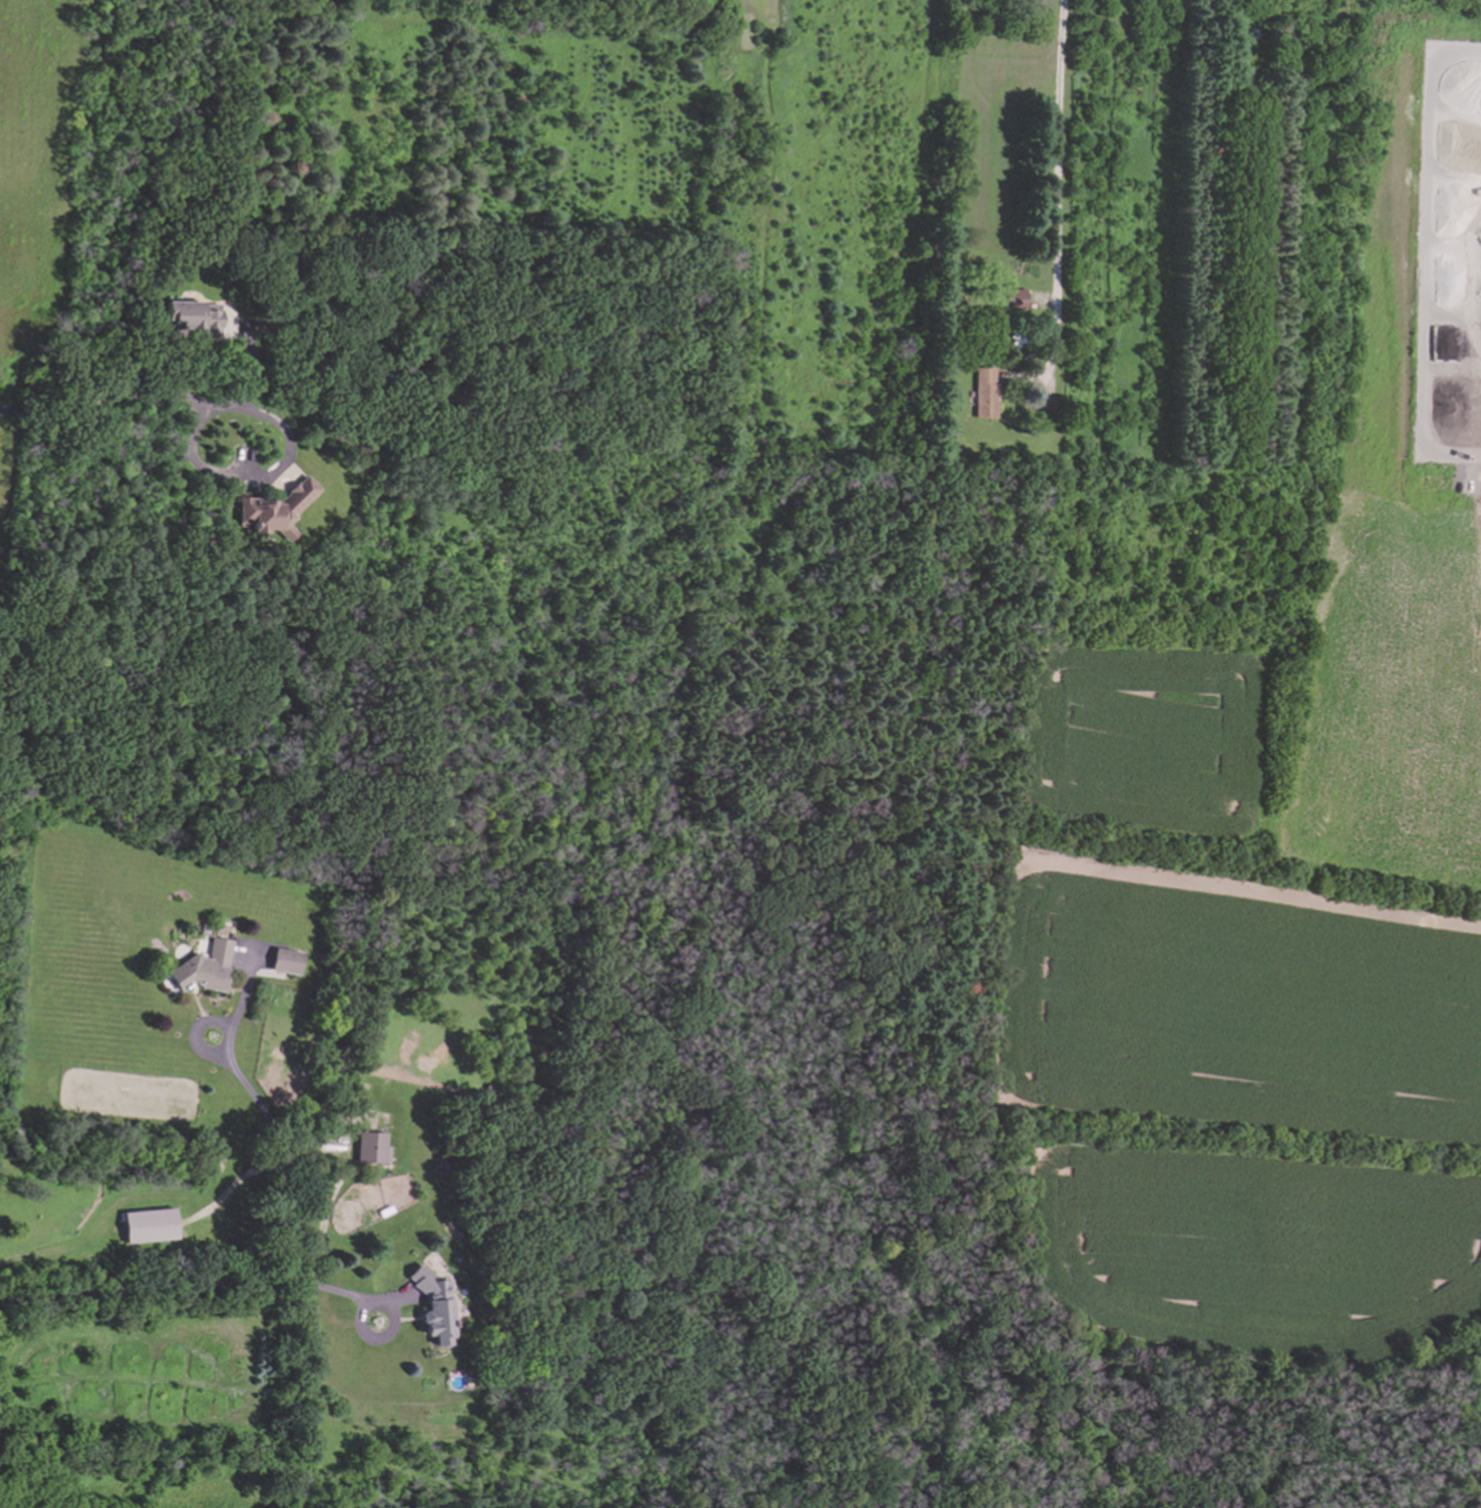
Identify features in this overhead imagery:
road: (1059, 193)
road: (1423, 259)
building: (1016, 300)
building: (192, 319)
building: (985, 393)
road: (103, 400)
road: (274, 477)
building: (276, 510)
quarry: (1131, 840)
building: (285, 962)
building: (204, 969)
crop: (1262, 982)
building: (372, 1149)
road: (279, 1151)
road: (230, 1191)
road: (324, 1220)
building: (150, 1227)
road: (69, 1253)
road: (195, 1287)
building: (434, 1307)

